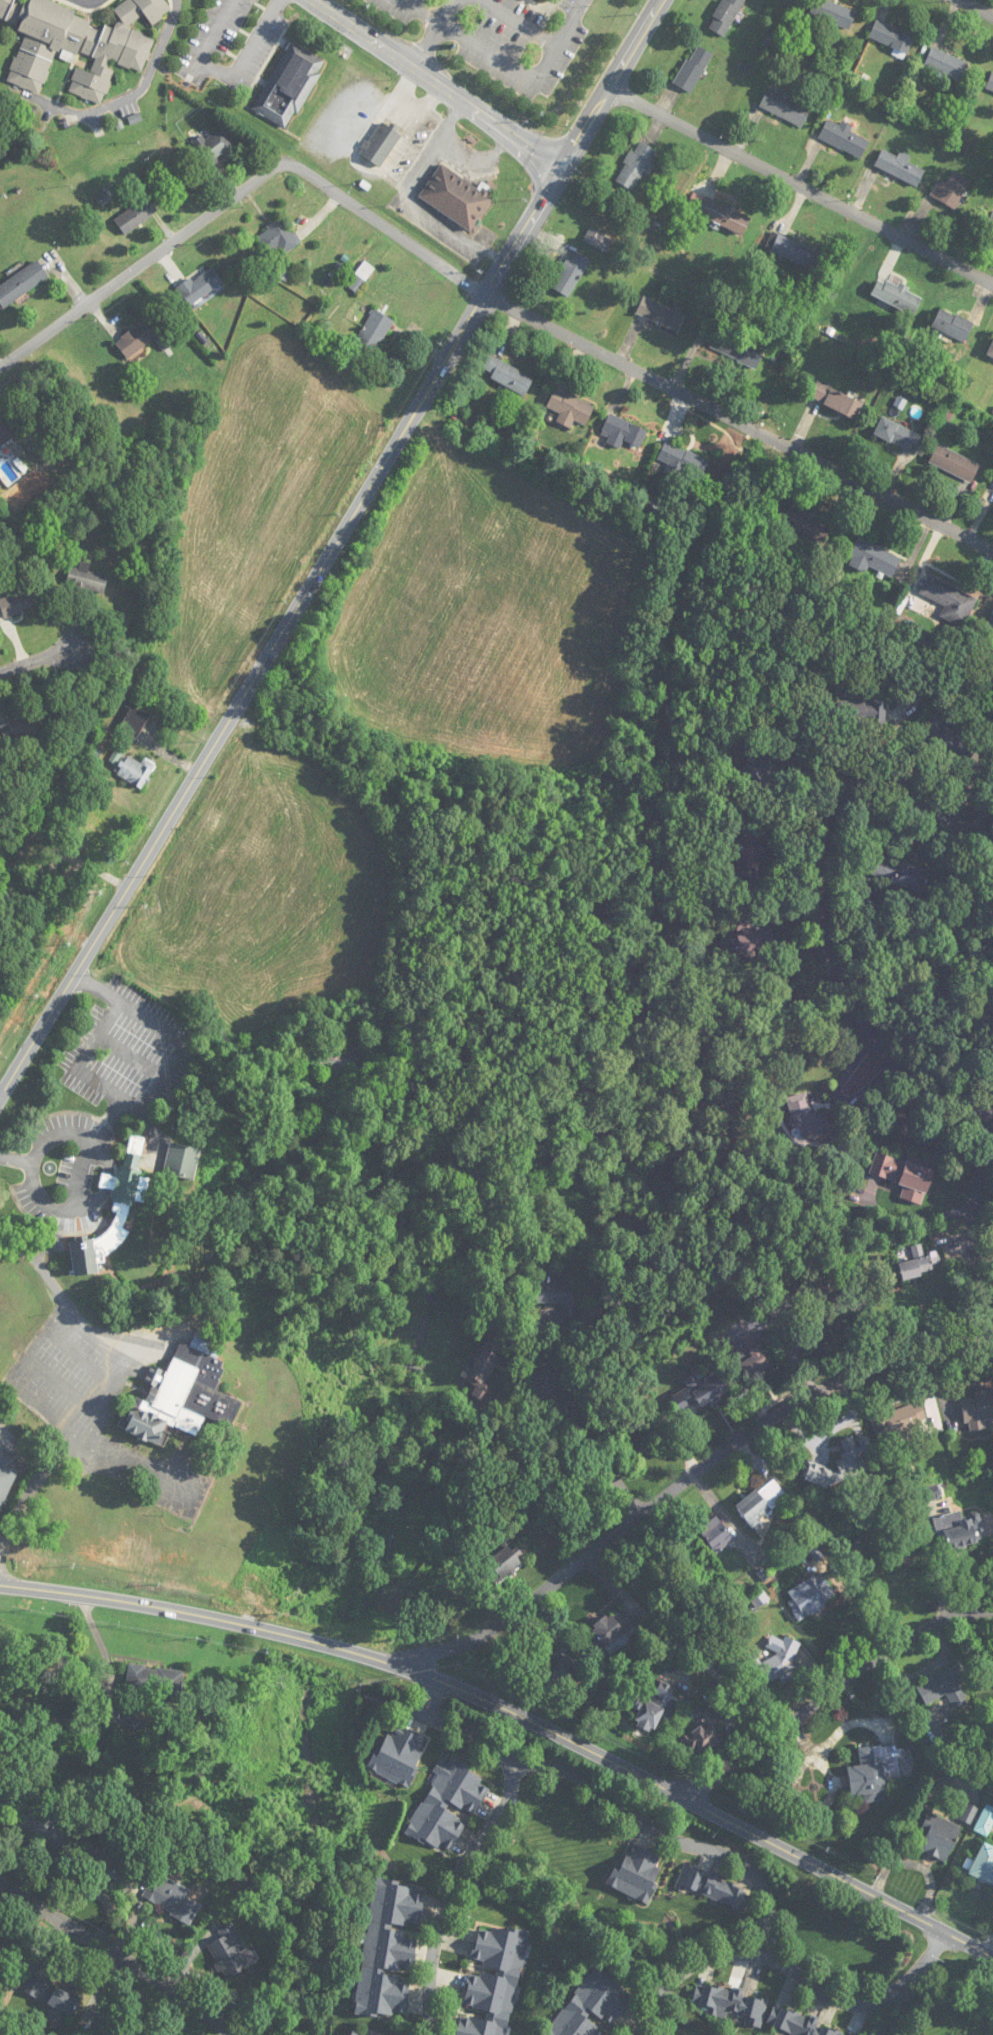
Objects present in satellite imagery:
road: (88, 5)
road: (971, 10)
road: (449, 12)
building: (832, 13)
building: (725, 16)
road: (523, 21)
road: (439, 27)
building: (891, 37)
building: (76, 38)
building: (946, 64)
building: (693, 69)
road: (225, 73)
road: (526, 74)
building: (990, 83)
road: (434, 84)
building: (288, 85)
building: (785, 107)
road: (453, 119)
building: (844, 138)
building: (380, 144)
building: (213, 147)
road: (478, 156)
building: (636, 166)
building: (899, 166)
road: (801, 186)
building: (951, 189)
road: (243, 191)
building: (457, 197)
road: (426, 211)
building: (136, 215)
building: (724, 216)
building: (990, 224)
building: (278, 237)
building: (793, 250)
building: (364, 271)
building: (570, 274)
building: (22, 283)
building: (200, 286)
building: (896, 296)
building: (660, 315)
building: (952, 325)
building: (373, 333)
building: (137, 338)
building: (736, 349)
building: (990, 351)
building: (507, 374)
building: (835, 400)
building: (570, 408)
road: (740, 426)
building: (622, 432)
building: (898, 434)
building: (4, 435)
building: (954, 463)
building: (806, 523)
road: (333, 553)
building: (873, 558)
building: (86, 579)
building: (949, 600)
building: (19, 602)
building: (990, 622)
road: (42, 659)
building: (859, 708)
building: (134, 721)
building: (21, 728)
building: (949, 739)
building: (132, 768)
building: (765, 769)
building: (95, 822)
building: (750, 850)
building: (897, 871)
road: (819, 906)
building: (750, 938)
road: (165, 1027)
road: (131, 1056)
building: (340, 1061)
road: (94, 1082)
road: (1, 1098)
building: (804, 1116)
road: (110, 1120)
road: (16, 1156)
building: (181, 1160)
road: (79, 1173)
building: (904, 1175)
building: (124, 1200)
road: (47, 1202)
road: (970, 1229)
building: (918, 1263)
building: (555, 1289)
building: (821, 1307)
road: (162, 1345)
building: (485, 1363)
building: (754, 1363)
road: (118, 1380)
building: (700, 1392)
building: (183, 1393)
building: (978, 1409)
building: (899, 1418)
road: (591, 1441)
building: (853, 1463)
road: (685, 1479)
building: (6, 1481)
building: (761, 1501)
building: (958, 1529)
building: (716, 1535)
building: (507, 1561)
building: (810, 1596)
road: (987, 1603)
building: (609, 1630)
building: (776, 1660)
building: (561, 1667)
building: (988, 1673)
building: (154, 1681)
building: (944, 1686)
road: (835, 1689)
road: (429, 1697)
road: (399, 1707)
building: (653, 1708)
road: (515, 1714)
building: (703, 1731)
road: (477, 1736)
building: (398, 1755)
building: (875, 1772)
building: (448, 1806)
building: (968, 1813)
building: (985, 1821)
building: (45, 1827)
building: (939, 1836)
road: (676, 1841)
building: (106, 1864)
building: (983, 1865)
building: (637, 1871)
building: (714, 1887)
road: (453, 1893)
building: (170, 1899)
building: (389, 1949)
building: (231, 1952)
road: (119, 1955)
building: (3, 1964)
road: (795, 1971)
building: (493, 1980)
building: (51, 1995)
building: (730, 2003)
building: (593, 2006)
building: (798, 2025)
building: (112, 2028)
building: (349, 2034)

